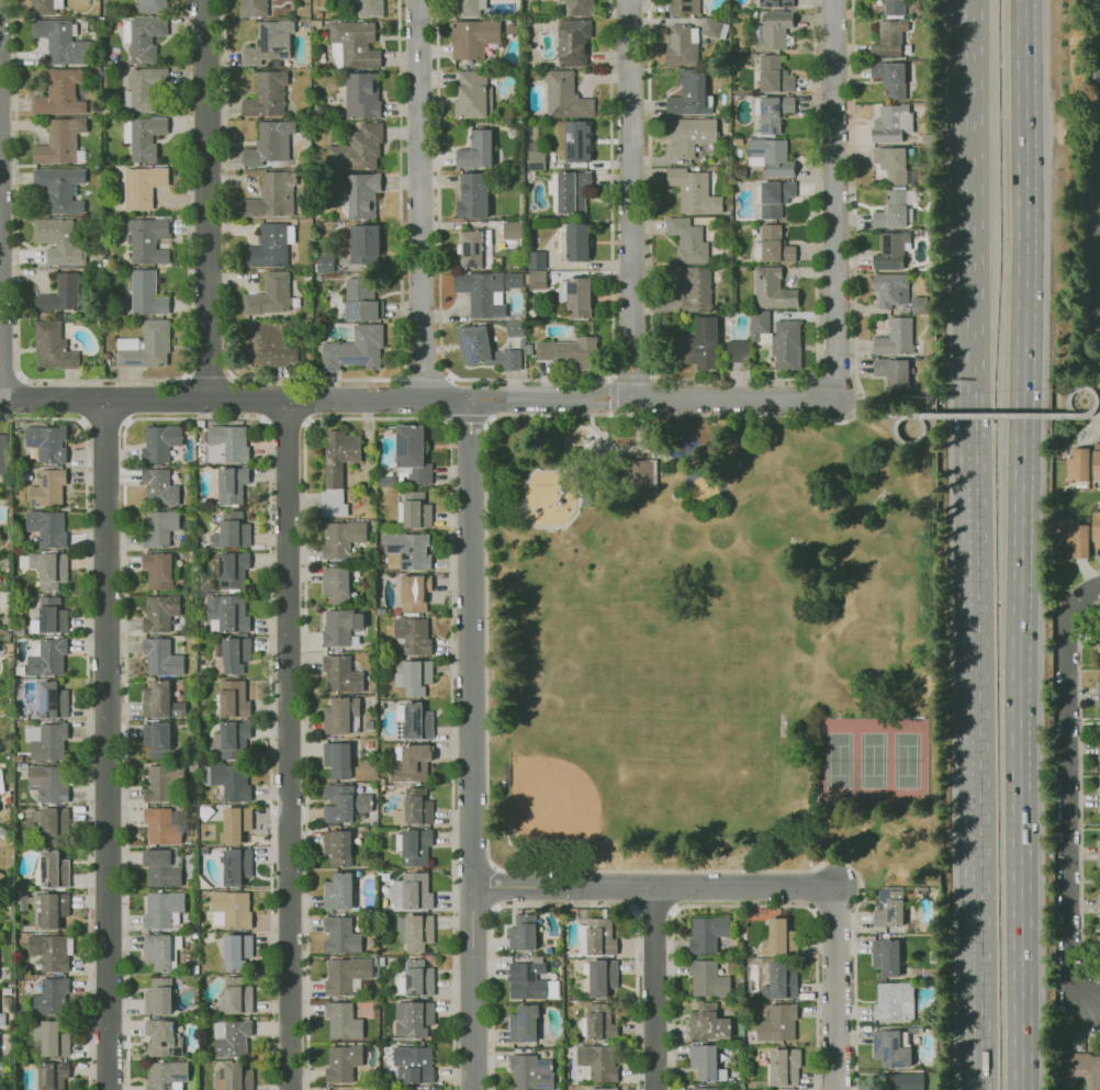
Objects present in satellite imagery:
building: (530, 0)
building: (774, 3)
building: (150, 7)
building: (895, 7)
building: (46, 8)
building: (370, 8)
building: (465, 8)
building: (580, 8)
building: (684, 8)
building: (254, 9)
building: (318, 14)
building: (754, 14)
building: (508, 22)
building: (316, 23)
building: (512, 29)
building: (715, 29)
building: (775, 31)
building: (143, 37)
building: (474, 38)
building: (889, 38)
building: (60, 42)
building: (573, 42)
building: (269, 43)
building: (353, 45)
building: (683, 46)
building: (774, 76)
building: (890, 79)
building: (142, 90)
building: (58, 93)
building: (691, 94)
building: (267, 95)
building: (362, 95)
building: (473, 97)
building: (565, 97)
building: (773, 113)
building: (893, 123)
building: (306, 125)
building: (693, 134)
building: (144, 137)
building: (574, 141)
building: (738, 142)
building: (58, 143)
building: (270, 143)
building: (358, 149)
building: (476, 150)
building: (535, 157)
building: (771, 157)
building: (894, 164)
building: (741, 172)
building: (733, 183)
building: (144, 187)
building: (59, 189)
building: (570, 191)
building: (694, 191)
building: (272, 195)
building: (473, 195)
building: (360, 196)
building: (774, 198)
road: (629, 199)
road: (832, 199)
road: (1099, 199)
road: (205, 200)
road: (420, 200)
building: (304, 209)
building: (895, 210)
building: (317, 214)
building: (929, 225)
road: (975, 227)
building: (513, 229)
road: (400, 232)
building: (933, 235)
building: (57, 238)
building: (364, 240)
building: (688, 240)
building: (147, 241)
building: (574, 241)
building: (270, 246)
building: (773, 246)
building: (474, 248)
building: (891, 250)
building: (536, 260)
building: (324, 262)
building: (537, 280)
building: (694, 286)
building: (773, 289)
building: (890, 289)
building: (147, 293)
building: (482, 293)
building: (579, 293)
building: (61, 295)
building: (270, 295)
building: (362, 299)
building: (921, 305)
building: (729, 310)
building: (930, 317)
building: (301, 324)
building: (515, 328)
building: (895, 338)
building: (777, 339)
building: (146, 346)
building: (267, 346)
building: (698, 346)
building: (53, 347)
building: (355, 349)
building: (484, 349)
building: (739, 351)
building: (570, 353)
building: (310, 359)
building: (893, 373)
road: (425, 377)
road: (632, 377)
road: (20, 378)
road: (9, 379)
road: (528, 379)
road: (102, 380)
road: (733, 380)
road: (608, 394)
road: (1020, 395)
road: (665, 396)
road: (652, 400)
road: (235, 401)
road: (647, 414)
road: (862, 416)
road: (905, 416)
road: (995, 416)
road: (1095, 416)
road: (1082, 417)
building: (159, 441)
building: (47, 442)
building: (226, 443)
building: (412, 452)
building: (2, 457)
building: (1096, 462)
building: (1078, 465)
building: (336, 469)
building: (640, 476)
building: (231, 484)
building: (46, 487)
building: (158, 487)
building: (585, 498)
building: (415, 509)
building: (46, 527)
building: (158, 527)
building: (1096, 529)
building: (231, 530)
building: (340, 537)
building: (1077, 540)
building: (407, 549)
building: (157, 569)
building: (232, 569)
building: (50, 570)
building: (334, 581)
building: (414, 592)
building: (227, 611)
building: (159, 613)
building: (50, 615)
building: (340, 625)
building: (412, 633)
park: (711, 642)
building: (1098, 643)
building: (0, 650)
building: (234, 654)
building: (160, 656)
building: (46, 658)
building: (340, 674)
building: (413, 675)
building: (1098, 694)
building: (232, 698)
building: (52, 699)
building: (159, 700)
building: (340, 715)
road: (86, 716)
building: (416, 721)
building: (233, 734)
building: (156, 738)
building: (45, 741)
road: (104, 744)
road: (471, 744)
building: (1099, 744)
road: (287, 746)
building: (337, 760)
park: (585, 760)
park: (838, 760)
park: (872, 760)
park: (905, 760)
building: (412, 763)
building: (1099, 767)
road: (980, 772)
building: (160, 780)
building: (227, 780)
building: (1, 782)
building: (47, 782)
road: (1079, 791)
road: (1073, 794)
building: (344, 802)
building: (1099, 804)
building: (416, 806)
building: (49, 823)
building: (235, 823)
building: (160, 827)
building: (414, 845)
building: (337, 846)
building: (1098, 852)
building: (236, 865)
building: (160, 868)
building: (53, 869)
road: (753, 889)
building: (409, 890)
building: (337, 891)
building: (1098, 904)
building: (52, 909)
building: (229, 909)
building: (888, 909)
building: (417, 931)
building: (521, 932)
building: (706, 933)
building: (339, 935)
building: (777, 935)
building: (596, 936)
road: (1017, 941)
building: (1097, 948)
building: (236, 949)
building: (48, 951)
building: (160, 951)
building: (885, 956)
building: (344, 973)
building: (417, 977)
building: (602, 977)
building: (706, 978)
building: (526, 979)
building: (779, 981)
road: (654, 989)
building: (236, 995)
building: (157, 996)
building: (49, 997)
building: (893, 1001)
building: (412, 1018)
building: (343, 1019)
building: (2, 1020)
building: (599, 1021)
building: (707, 1022)
building: (776, 1022)
building: (523, 1023)
road: (1081, 1034)
building: (231, 1037)
building: (48, 1038)
building: (160, 1038)
building: (893, 1050)
building: (596, 1060)
building: (341, 1063)
building: (414, 1063)
building: (704, 1063)
building: (783, 1067)
building: (2, 1068)
building: (1078, 1070)
building: (529, 1072)
building: (165, 1075)
building: (52, 1076)
building: (233, 1077)
building: (602, 1088)
building: (703, 1088)

